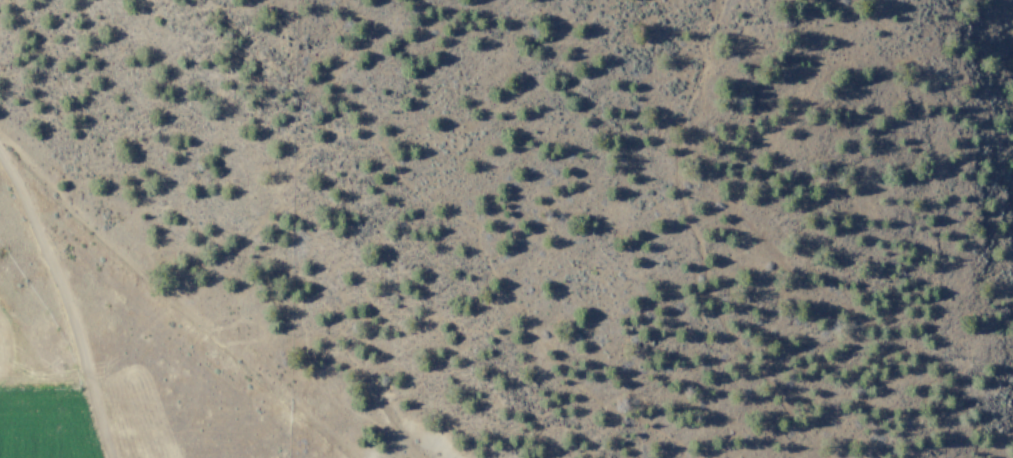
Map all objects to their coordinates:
road: (63, 304)

